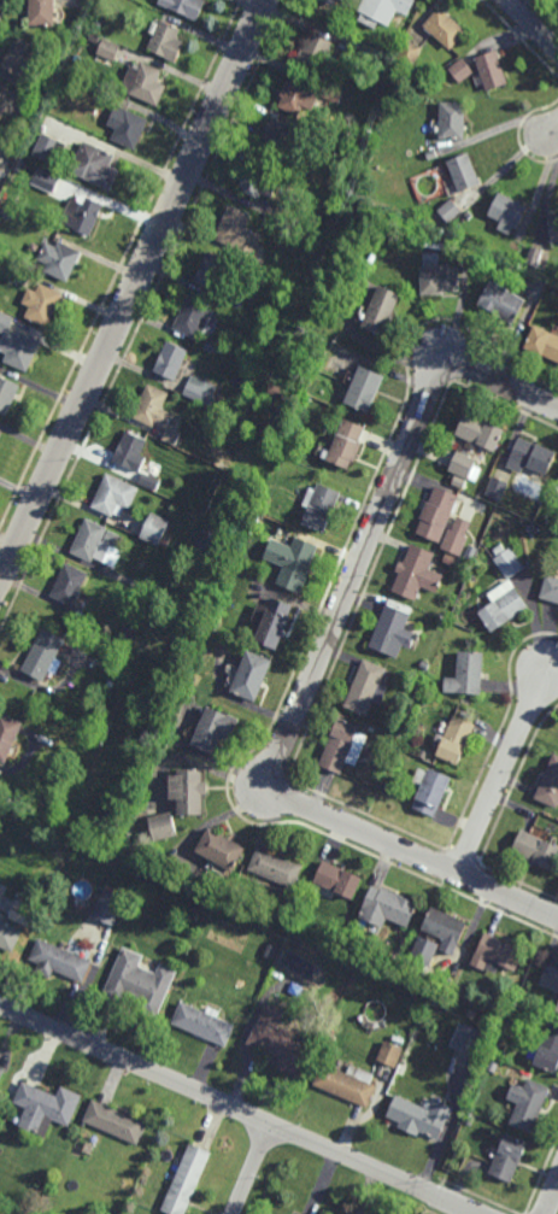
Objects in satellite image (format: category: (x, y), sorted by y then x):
building: (346, 1)
building: (331, 2)
building: (184, 6)
building: (387, 10)
building: (42, 12)
building: (96, 23)
road: (531, 27)
building: (335, 29)
building: (445, 29)
building: (165, 40)
building: (93, 41)
building: (107, 52)
building: (315, 52)
building: (409, 53)
building: (358, 55)
building: (20, 58)
building: (460, 70)
building: (491, 70)
building: (143, 84)
building: (0, 93)
building: (57, 93)
building: (333, 93)
building: (0, 94)
building: (298, 95)
building: (453, 121)
building: (127, 128)
road: (551, 130)
building: (281, 137)
building: (49, 151)
building: (431, 156)
building: (8, 162)
building: (18, 165)
building: (94, 166)
building: (464, 172)
building: (1, 174)
building: (258, 181)
building: (340, 201)
building: (450, 211)
building: (507, 213)
building: (6, 215)
building: (82, 216)
building: (468, 216)
building: (553, 227)
building: (239, 234)
building: (301, 247)
building: (374, 253)
building: (534, 257)
building: (59, 260)
building: (212, 271)
building: (18, 275)
building: (439, 276)
road: (131, 291)
building: (236, 298)
building: (501, 301)
building: (41, 305)
building: (382, 311)
building: (194, 317)
building: (299, 330)
building: (542, 344)
building: (16, 346)
building: (213, 347)
building: (171, 360)
building: (365, 389)
building: (200, 391)
building: (7, 395)
building: (153, 407)
building: (480, 433)
building: (171, 436)
building: (347, 445)
building: (131, 452)
building: (531, 457)
building: (462, 465)
building: (152, 480)
building: (164, 486)
building: (498, 488)
building: (171, 491)
building: (114, 497)
building: (322, 508)
building: (439, 515)
building: (531, 529)
building: (155, 530)
building: (282, 532)
building: (457, 536)
building: (113, 539)
building: (89, 540)
building: (499, 550)
building: (470, 557)
building: (198, 562)
building: (293, 563)
building: (509, 563)
building: (418, 574)
building: (70, 585)
building: (137, 585)
building: (550, 590)
building: (503, 606)
building: (274, 623)
building: (163, 624)
building: (393, 633)
building: (123, 647)
building: (45, 656)
road: (312, 667)
building: (424, 667)
building: (468, 675)
building: (252, 678)
building: (368, 688)
building: (215, 732)
building: (8, 735)
building: (456, 740)
building: (390, 743)
building: (428, 745)
building: (340, 746)
building: (423, 755)
road: (499, 774)
building: (550, 785)
building: (388, 787)
building: (431, 791)
building: (189, 793)
building: (106, 816)
building: (164, 826)
building: (221, 848)
building: (536, 848)
building: (276, 867)
building: (339, 879)
building: (196, 891)
building: (389, 907)
building: (108, 908)
building: (447, 928)
building: (8, 936)
building: (425, 950)
building: (271, 951)
building: (498, 952)
building: (59, 960)
building: (397, 961)
building: (322, 972)
building: (550, 978)
building: (140, 983)
building: (425, 992)
building: (465, 992)
building: (557, 1009)
building: (204, 1022)
building: (469, 1038)
building: (281, 1040)
building: (548, 1049)
building: (495, 1051)
building: (390, 1054)
building: (492, 1065)
building: (1, 1072)
building: (348, 1083)
building: (528, 1103)
building: (46, 1107)
road: (237, 1109)
building: (422, 1115)
building: (471, 1119)
building: (114, 1121)
building: (507, 1157)
road: (252, 1168)
building: (187, 1180)
road: (551, 1196)

